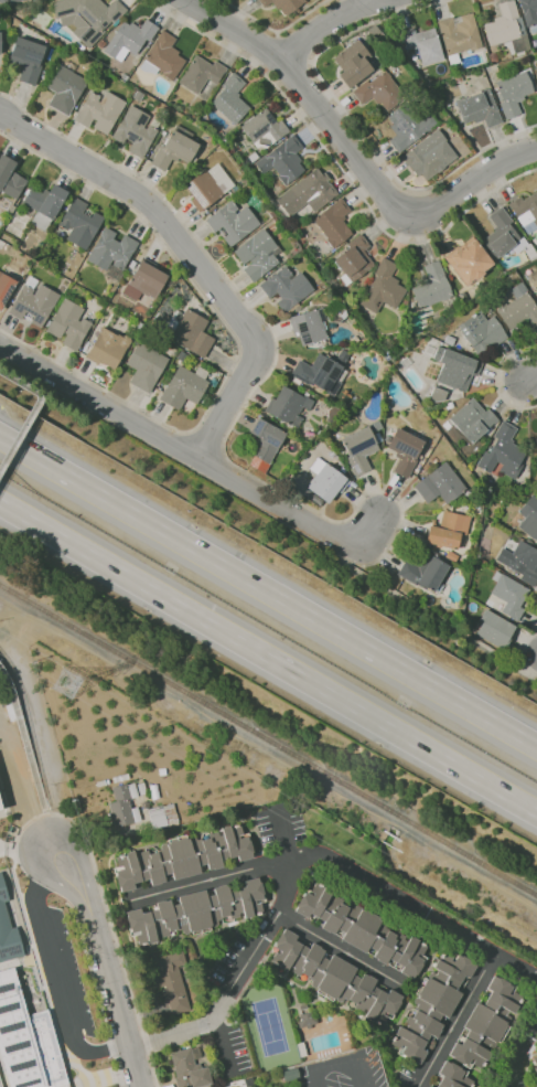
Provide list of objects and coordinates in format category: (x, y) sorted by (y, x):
building: (10, 1)
building: (282, 4)
building: (529, 13)
building: (87, 18)
road: (327, 23)
road: (272, 30)
building: (507, 30)
building: (459, 35)
building: (129, 39)
building: (0, 40)
building: (422, 44)
road: (298, 47)
road: (270, 52)
building: (163, 57)
building: (28, 58)
building: (354, 64)
road: (294, 72)
building: (201, 74)
building: (64, 88)
building: (379, 92)
road: (309, 93)
building: (513, 93)
building: (230, 99)
building: (480, 109)
building: (99, 111)
road: (354, 124)
building: (407, 127)
building: (264, 129)
building: (135, 131)
building: (175, 150)
building: (429, 156)
building: (282, 160)
road: (341, 164)
building: (9, 185)
building: (207, 188)
road: (468, 189)
building: (312, 191)
building: (45, 201)
building: (526, 211)
building: (79, 223)
building: (233, 223)
building: (332, 223)
building: (505, 236)
building: (111, 251)
building: (257, 255)
road: (191, 256)
building: (461, 259)
building: (353, 260)
building: (144, 278)
building: (431, 286)
building: (535, 287)
building: (4, 288)
building: (287, 288)
building: (383, 288)
building: (34, 301)
building: (518, 311)
building: (69, 324)
building: (309, 326)
building: (482, 331)
building: (192, 334)
road: (234, 347)
building: (106, 349)
building: (146, 366)
building: (455, 369)
building: (320, 375)
road: (501, 381)
road: (530, 382)
building: (185, 386)
building: (437, 395)
road: (98, 402)
building: (287, 407)
road: (31, 411)
building: (334, 413)
building: (472, 420)
building: (266, 440)
road: (208, 443)
building: (535, 443)
building: (502, 450)
building: (357, 451)
building: (405, 451)
building: (324, 480)
building: (440, 484)
road: (305, 507)
road: (294, 515)
building: (529, 518)
building: (448, 531)
building: (520, 561)
building: (422, 569)
road: (268, 593)
building: (509, 597)
road: (430, 615)
road: (14, 620)
building: (496, 631)
road: (525, 653)
road: (268, 659)
power tower: (62, 688)
road: (31, 703)
road: (22, 737)
railway: (268, 739)
road: (268, 753)
building: (0, 804)
building: (122, 804)
road: (21, 807)
road: (44, 809)
building: (0, 810)
road: (52, 813)
road: (58, 821)
building: (181, 857)
road: (207, 878)
building: (196, 910)
road: (417, 919)
road: (273, 920)
building: (361, 929)
building: (8, 930)
road: (114, 944)
road: (342, 946)
road: (35, 956)
road: (89, 969)
parking lot: (72, 970)
road: (109, 971)
building: (332, 974)
road: (53, 978)
building: (169, 981)
building: (432, 1004)
building: (304, 1019)
road: (453, 1023)
building: (485, 1023)
road: (175, 1031)
road: (101, 1034)
road: (78, 1037)
building: (26, 1040)
road: (111, 1047)
road: (519, 1059)
building: (535, 1063)
road: (325, 1065)
building: (189, 1068)
road: (119, 1070)
road: (358, 1074)
building: (452, 1076)
road: (105, 1080)
building: (0, 1083)
building: (428, 1086)

